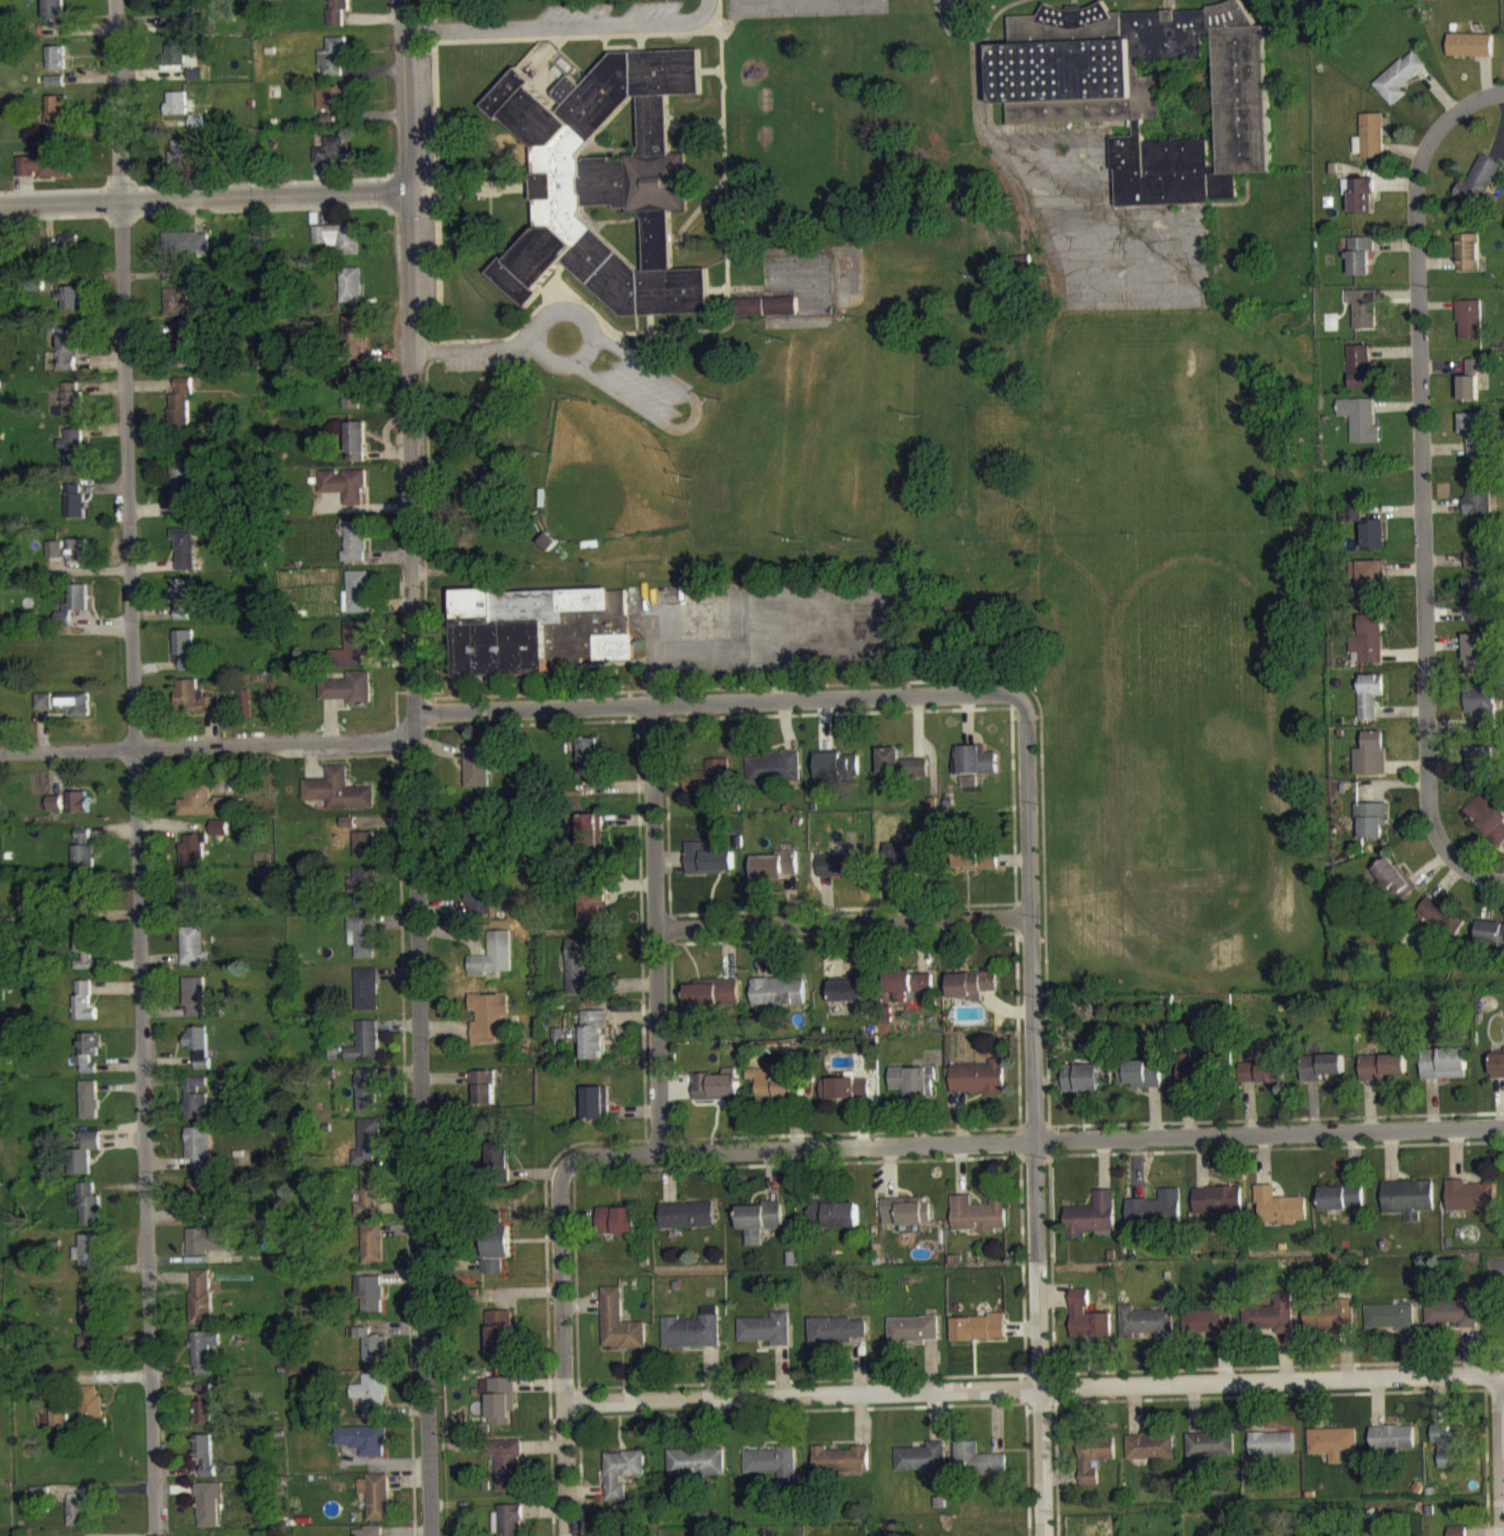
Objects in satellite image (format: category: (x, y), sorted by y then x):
building: (171, 14)
building: (336, 16)
building: (54, 17)
road: (559, 24)
building: (1470, 54)
building: (180, 62)
building: (56, 66)
building: (332, 66)
road: (977, 73)
building: (195, 83)
building: (1398, 87)
building: (55, 90)
building: (1147, 90)
road: (403, 94)
building: (331, 107)
building: (176, 112)
building: (55, 125)
building: (328, 128)
building: (1370, 145)
building: (332, 158)
building: (180, 162)
building: (44, 175)
building: (602, 175)
building: (1477, 190)
road: (202, 196)
building: (1361, 205)
building: (337, 246)
building: (185, 252)
building: (61, 255)
building: (1467, 261)
building: (1360, 264)
building: (34, 292)
building: (350, 294)
building: (68, 306)
building: (176, 311)
building: (764, 315)
building: (1363, 317)
road: (541, 322)
building: (1469, 329)
building: (354, 342)
road: (475, 347)
road: (586, 350)
building: (186, 351)
building: (69, 358)
building: (1475, 374)
building: (1360, 376)
parking lot: (646, 381)
parking lot: (639, 391)
building: (354, 396)
building: (1468, 397)
building: (72, 408)
building: (180, 410)
road: (692, 418)
building: (1360, 428)
building: (1474, 441)
building: (355, 450)
building: (72, 457)
park: (607, 475)
road: (1420, 491)
building: (343, 493)
building: (184, 495)
building: (1478, 498)
building: (75, 508)
building: (1350, 522)
building: (1373, 544)
building: (355, 550)
building: (185, 557)
building: (1478, 557)
building: (68, 560)
building: (1371, 591)
building: (357, 601)
building: (184, 607)
building: (1476, 609)
building: (72, 614)
building: (539, 638)
building: (1368, 648)
building: (352, 655)
building: (184, 657)
building: (1475, 662)
building: (349, 697)
building: (1370, 704)
building: (194, 706)
road: (504, 708)
building: (43, 710)
building: (73, 712)
building: (1482, 715)
building: (1371, 763)
building: (590, 766)
road: (135, 767)
building: (974, 769)
building: (900, 773)
building: (477, 774)
building: (837, 774)
building: (1479, 774)
building: (773, 776)
building: (711, 786)
building: (338, 799)
building: (203, 810)
building: (78, 811)
building: (54, 812)
building: (1487, 826)
building: (1371, 829)
building: (590, 839)
building: (364, 853)
building: (83, 858)
building: (192, 859)
road: (415, 862)
building: (909, 864)
building: (974, 865)
building: (708, 868)
building: (842, 872)
building: (775, 874)
building: (1394, 885)
building: (362, 893)
building: (189, 903)
building: (84, 905)
building: (480, 907)
building: (593, 910)
road: (842, 922)
building: (1442, 925)
road: (655, 928)
building: (1490, 942)
building: (361, 944)
building: (192, 955)
building: (86, 959)
building: (583, 971)
building: (909, 992)
building: (972, 994)
building: (366, 998)
building: (848, 1000)
building: (779, 1001)
building: (714, 1003)
building: (194, 1005)
building: (84, 1010)
building: (489, 1026)
building: (593, 1043)
building: (365, 1051)
building: (199, 1054)
building: (88, 1061)
building: (336, 1062)
building: (1444, 1073)
building: (1383, 1075)
building: (1322, 1076)
building: (1262, 1081)
building: (1141, 1082)
building: (1192, 1082)
building: (979, 1087)
building: (1081, 1087)
building: (914, 1089)
building: (777, 1094)
building: (717, 1095)
building: (484, 1096)
building: (845, 1097)
building: (367, 1099)
building: (194, 1107)
building: (89, 1108)
building: (594, 1112)
road: (1034, 1115)
road: (1033, 1140)
building: (370, 1150)
building: (199, 1157)
building: (83, 1162)
building: (499, 1165)
building: (201, 1198)
building: (369, 1201)
building: (1343, 1205)
building: (1472, 1206)
building: (1409, 1207)
building: (1219, 1211)
building: (88, 1213)
building: (1279, 1216)
building: (1156, 1217)
building: (815, 1220)
building: (906, 1220)
building: (687, 1224)
building: (842, 1224)
building: (979, 1224)
building: (1092, 1226)
building: (618, 1229)
building: (760, 1229)
building: (207, 1249)
building: (372, 1252)
building: (496, 1260)
building: (90, 1263)
building: (370, 1301)
building: (201, 1306)
building: (1452, 1321)
building: (1271, 1324)
building: (1329, 1324)
building: (1390, 1326)
building: (1087, 1327)
building: (1210, 1328)
building: (91, 1330)
building: (619, 1332)
building: (1145, 1332)
building: (978, 1337)
building: (766, 1338)
building: (913, 1338)
building: (693, 1339)
building: (835, 1340)
building: (499, 1342)
road: (562, 1349)
building: (371, 1354)
building: (203, 1359)
road: (1033, 1386)
building: (373, 1405)
building: (499, 1409)
building: (91, 1420)
building: (58, 1427)
building: (1392, 1446)
building: (364, 1448)
building: (1332, 1452)
building: (1210, 1453)
road: (1501, 1454)
building: (1270, 1455)
building: (1150, 1456)
building: (1449, 1456)
building: (205, 1462)
building: (1094, 1467)
building: (840, 1468)
building: (923, 1468)
building: (977, 1468)
building: (696, 1471)
building: (771, 1471)
building: (507, 1475)
building: (621, 1481)
building: (376, 1505)
building: (208, 1512)
building: (78, 1521)
building: (507, 1525)
building: (1461, 1535)

